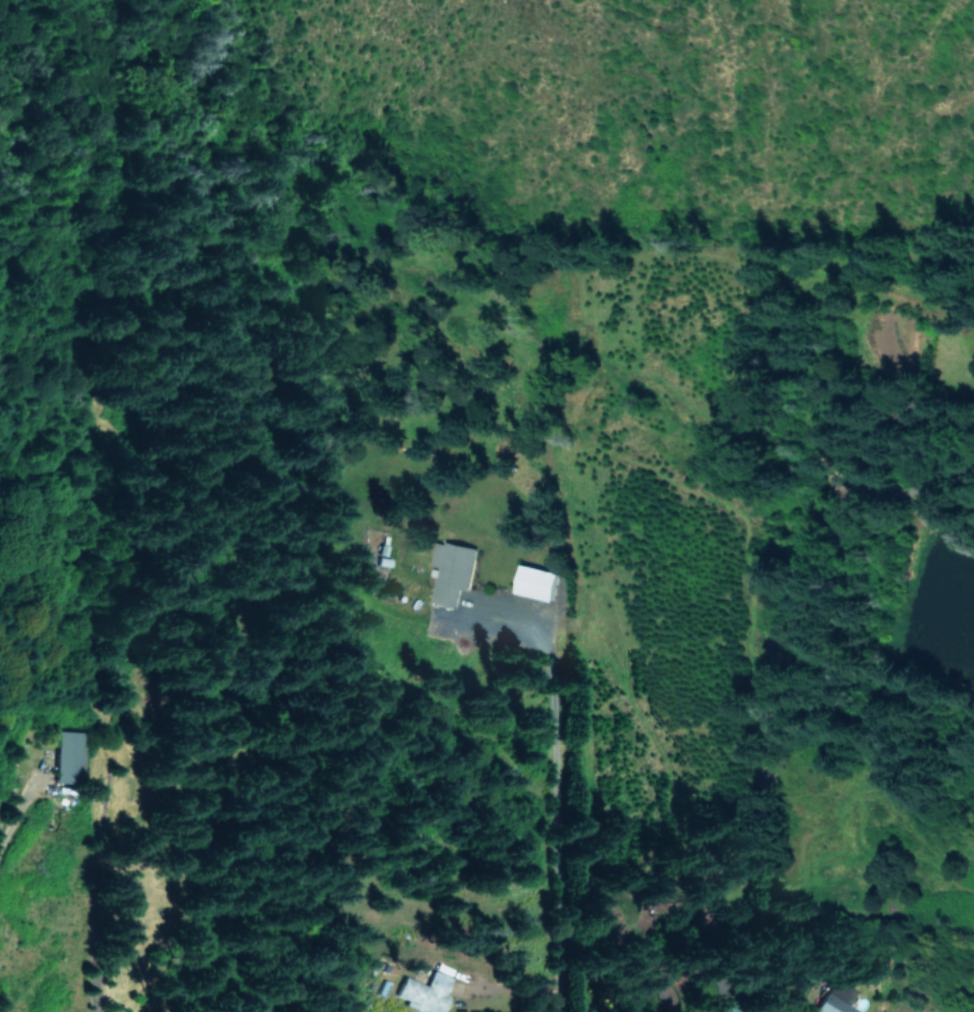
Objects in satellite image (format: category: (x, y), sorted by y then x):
building: (450, 570)
building: (532, 581)
building: (67, 756)
road: (557, 782)
road: (17, 817)
road: (100, 902)
building: (422, 992)
building: (834, 999)

